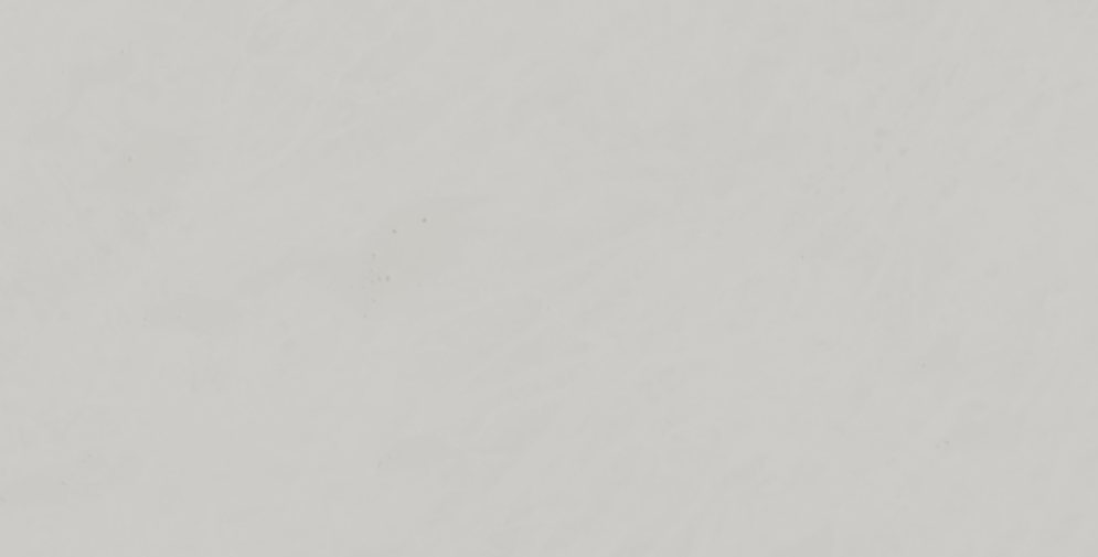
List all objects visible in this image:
road: (260, 261)

